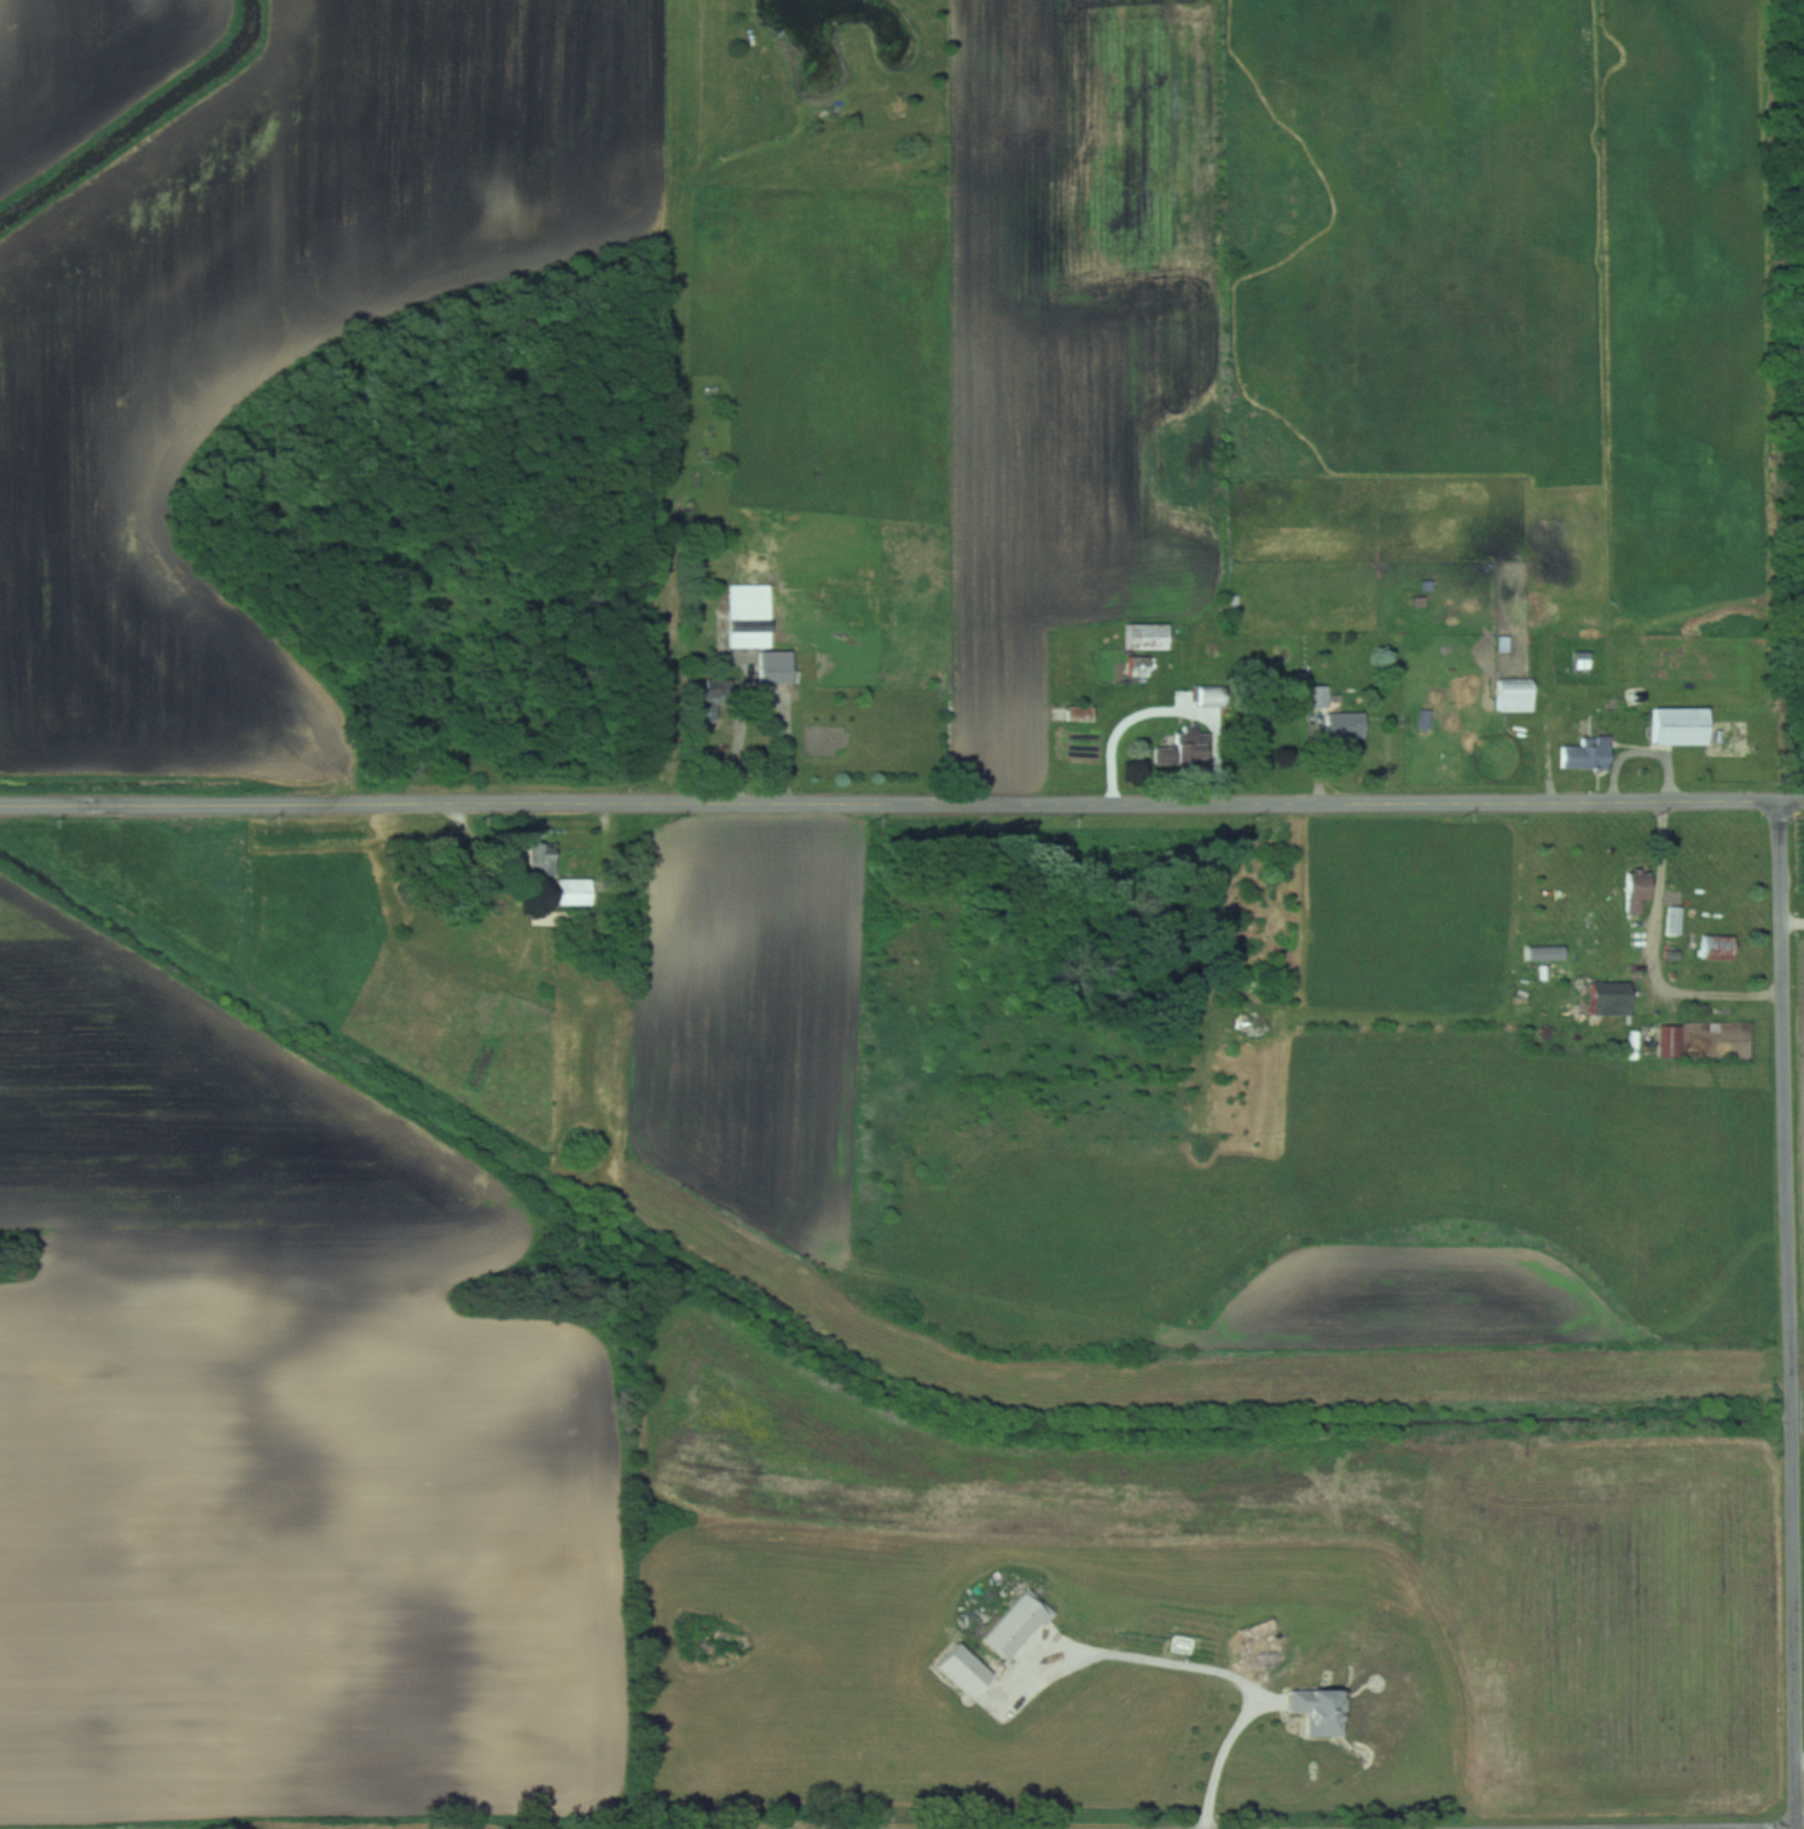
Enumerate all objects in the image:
building: (748, 615)
building: (1144, 637)
building: (1113, 663)
building: (773, 667)
building: (1136, 667)
building: (1513, 695)
building: (1208, 696)
building: (1315, 696)
road: (765, 702)
building: (707, 703)
road: (1170, 710)
building: (1079, 713)
building: (1344, 725)
building: (1677, 726)
building: (1183, 748)
building: (1584, 754)
road: (901, 805)
building: (538, 858)
building: (567, 892)
building: (1634, 896)
building: (1717, 948)
building: (1544, 954)
road: (1659, 956)
building: (1606, 999)
building: (1667, 1043)
road: (1792, 1313)
building: (1013, 1624)
road: (1214, 1670)
building: (1313, 1706)
road: (1802, 1744)
road: (1803, 1828)

